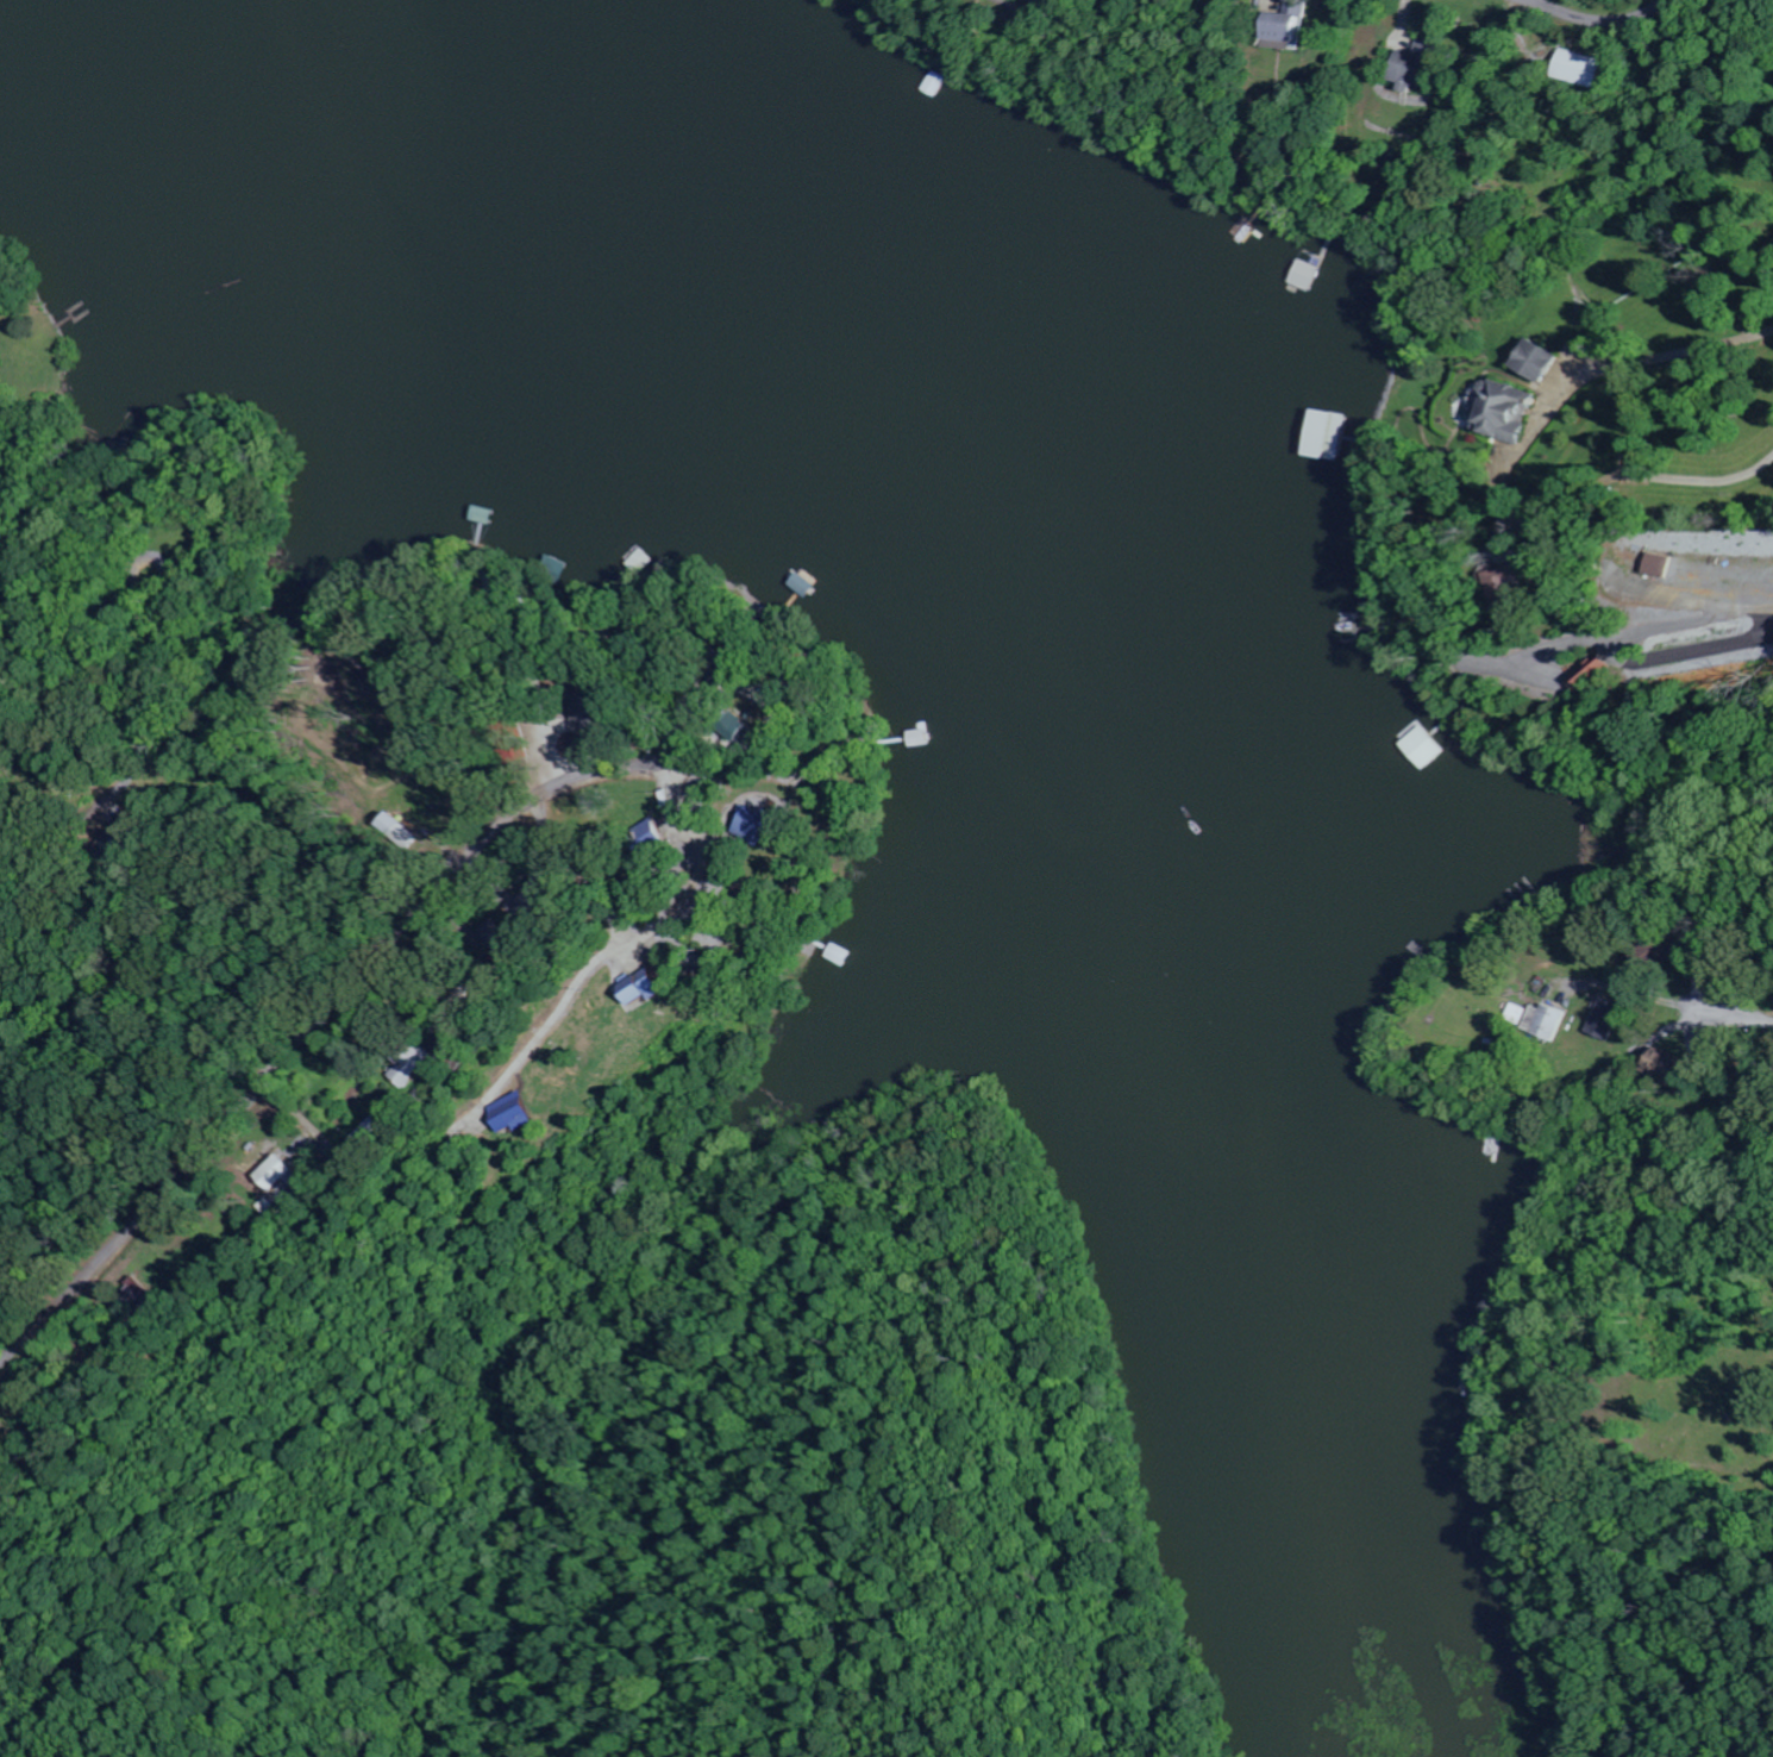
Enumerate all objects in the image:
road: (1603, 21)
building: (1288, 25)
building: (1414, 68)
building: (1581, 68)
building: (1307, 275)
road: (1669, 312)
building: (1533, 361)
building: (1499, 409)
road: (1654, 500)
building: (1656, 565)
road: (1696, 612)
building: (1595, 674)
road: (156, 707)
building: (735, 725)
building: (758, 825)
building: (652, 838)
building: (646, 989)
road: (1731, 1012)
building: (1605, 1020)
building: (1546, 1021)
road: (301, 1033)
building: (415, 1065)

